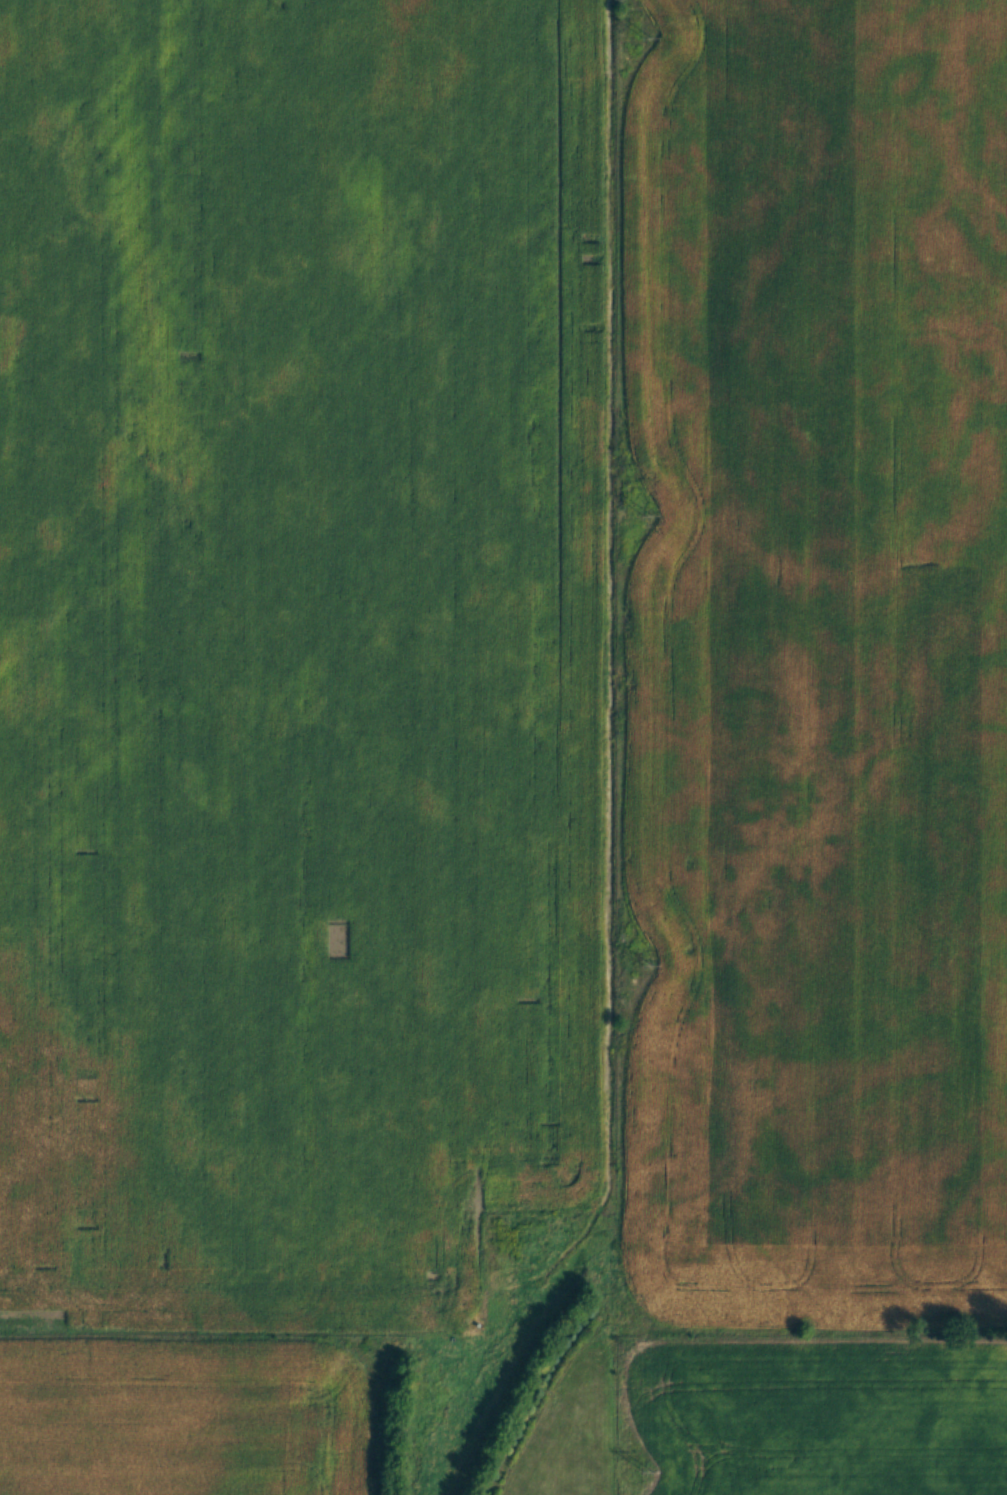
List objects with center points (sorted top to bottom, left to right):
power tower: (646, 40)
power tower: (647, 518)
power tower: (649, 968)
power tower: (648, 1474)

